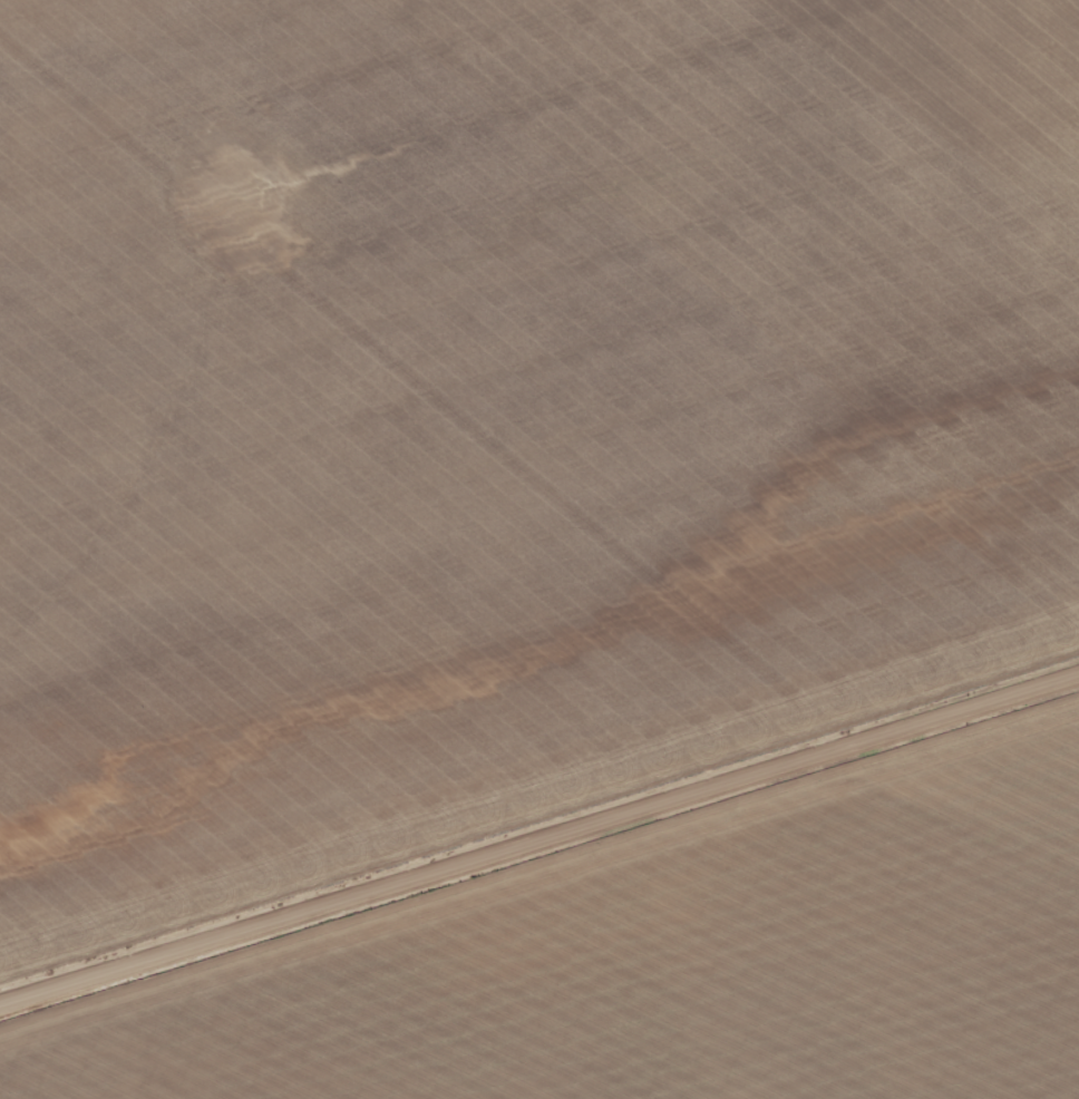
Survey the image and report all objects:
road: (538, 838)

